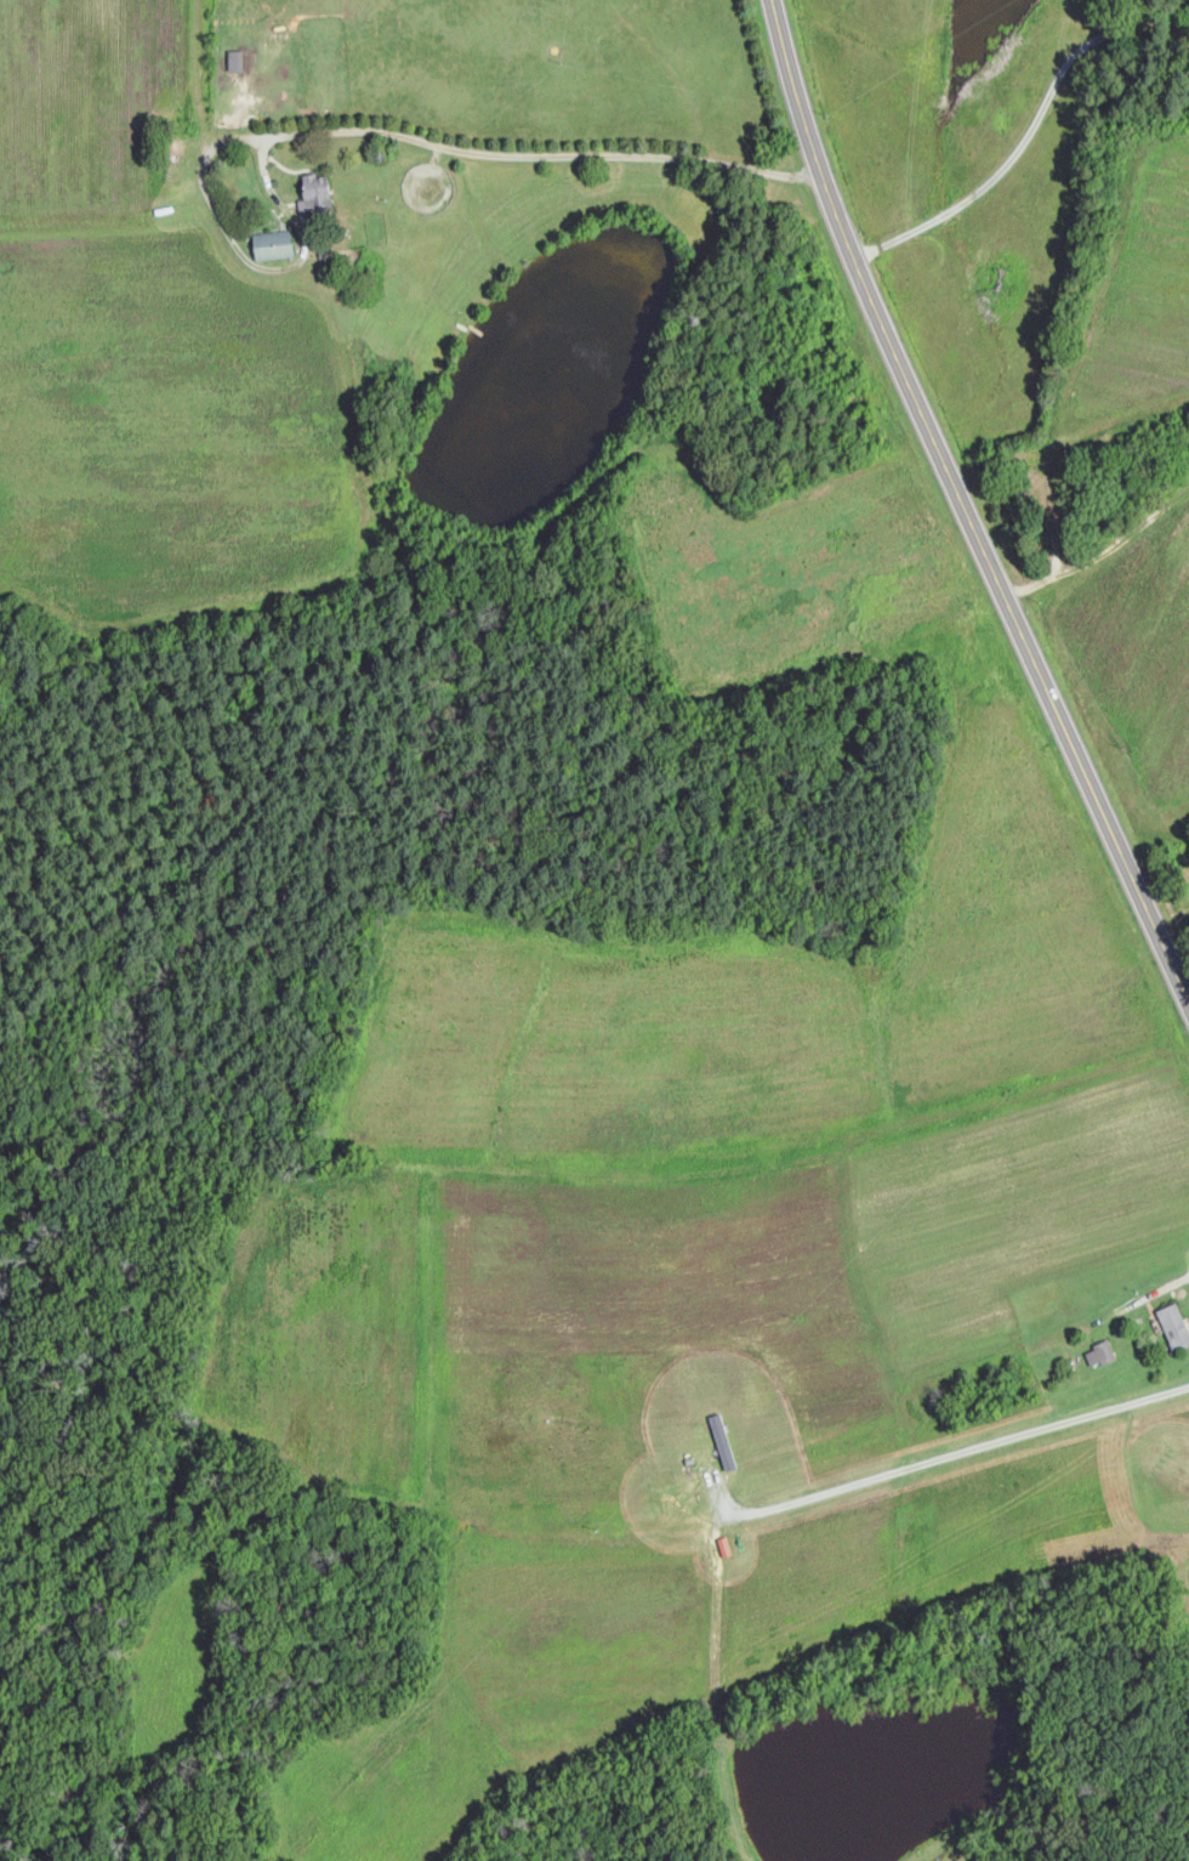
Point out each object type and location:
building: (237, 58)
road: (357, 127)
road: (1029, 130)
building: (318, 191)
building: (275, 243)
road: (963, 506)
building: (1176, 1324)
building: (1102, 1352)
building: (726, 1440)
road: (960, 1449)
building: (726, 1544)

